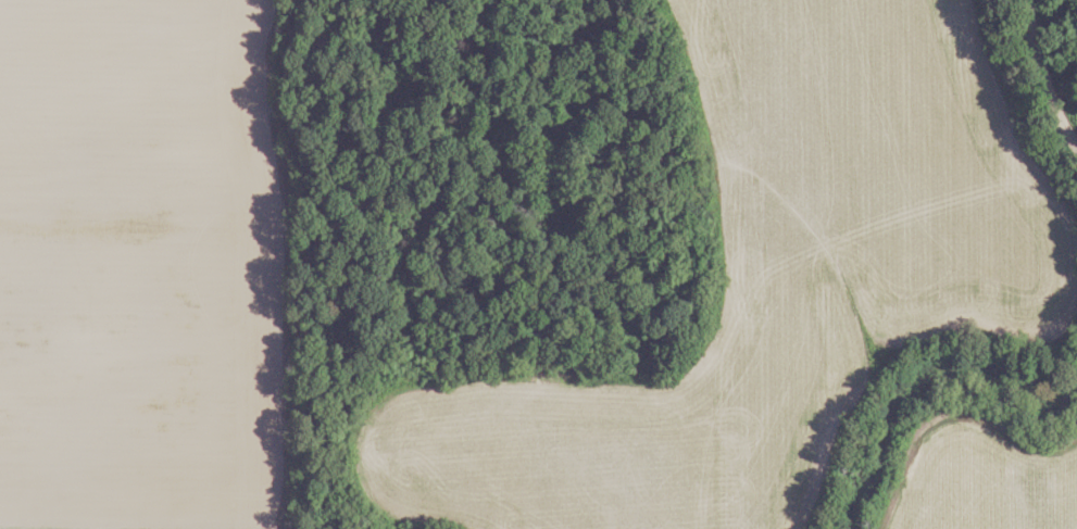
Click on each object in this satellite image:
road: (1047, 72)

